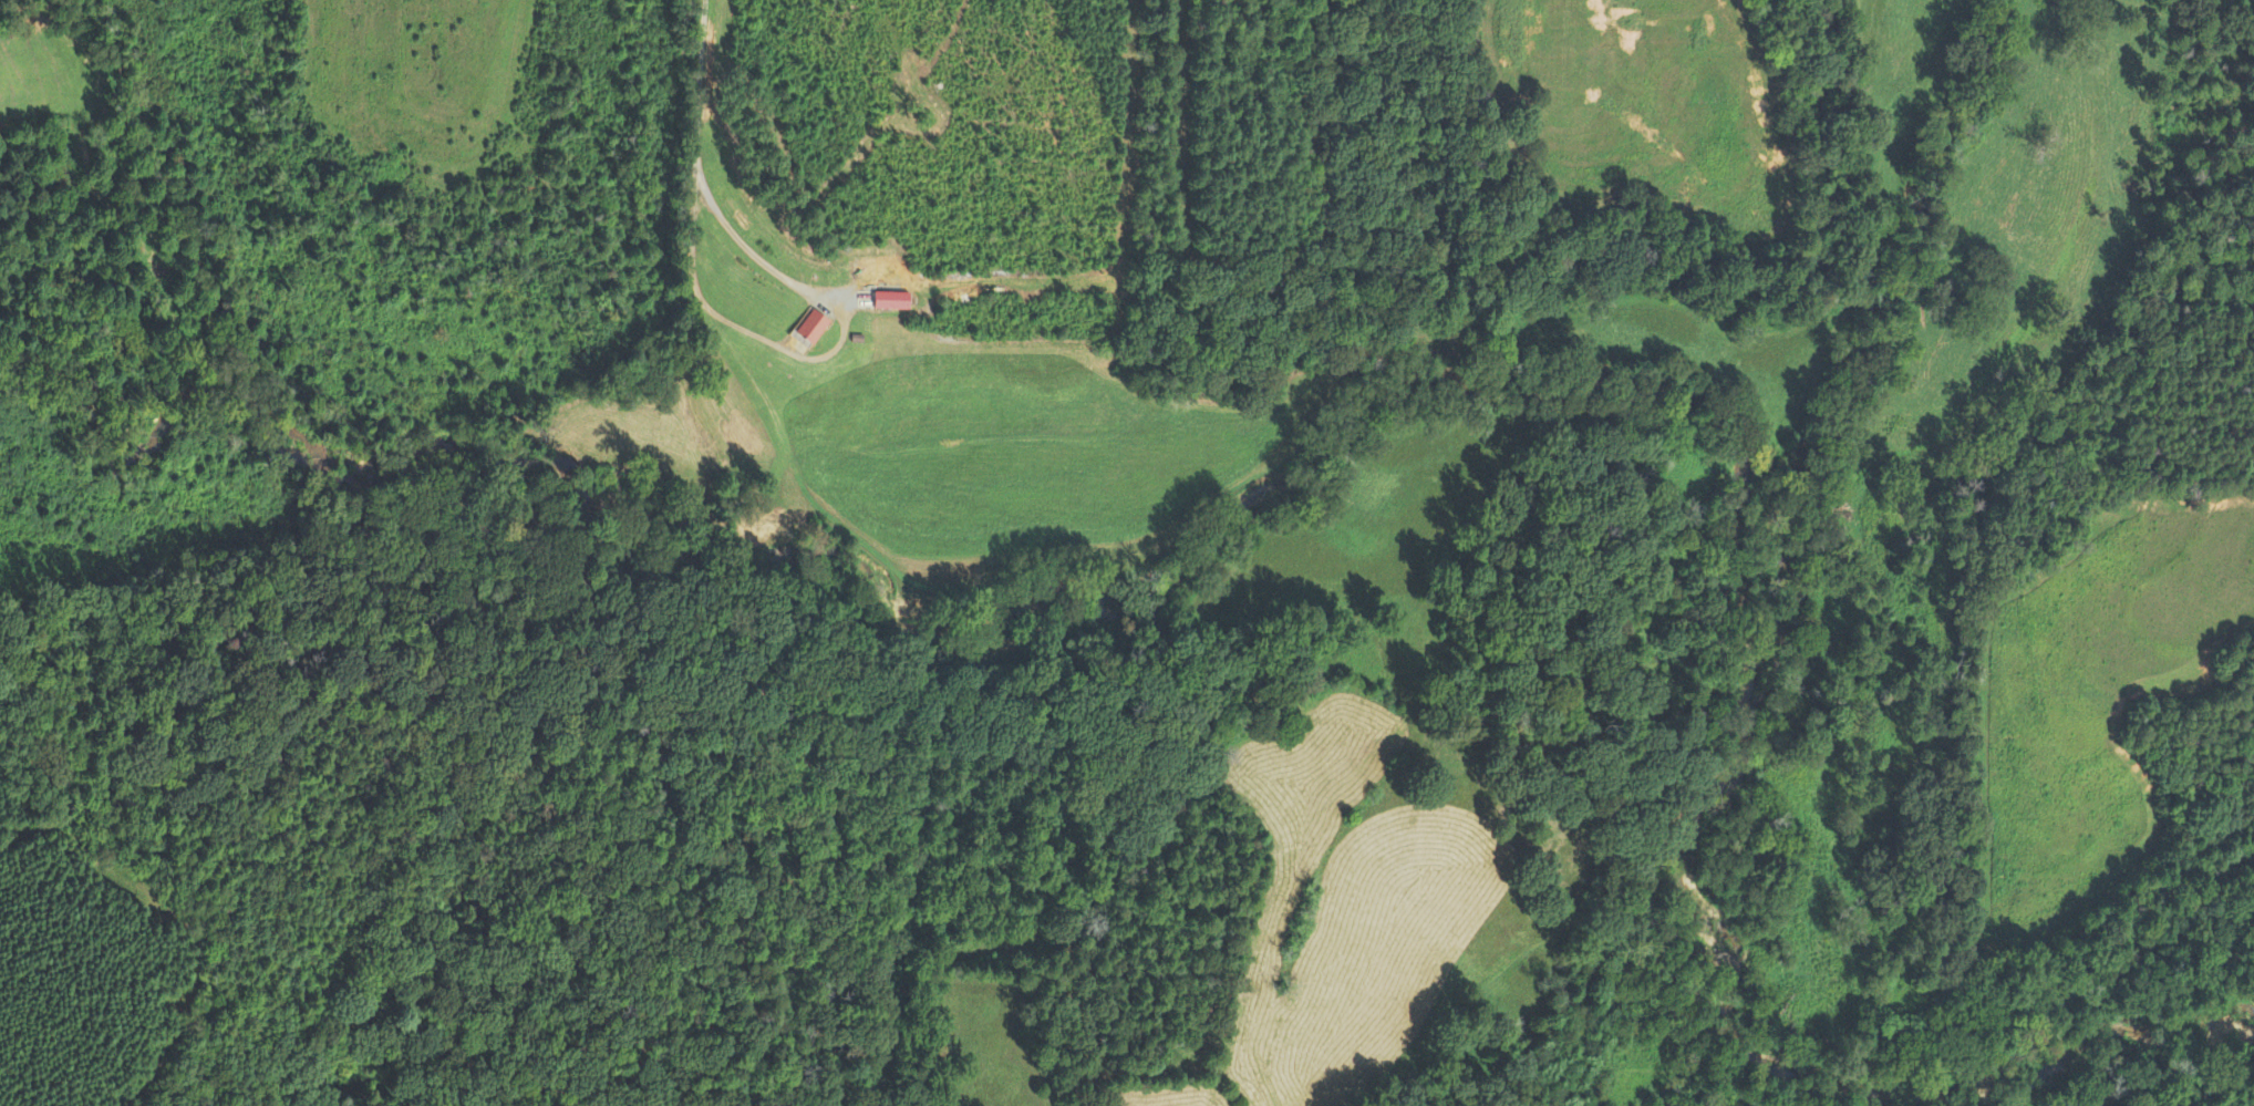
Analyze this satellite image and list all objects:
road: (699, 89)
building: (810, 327)
road: (820, 363)

